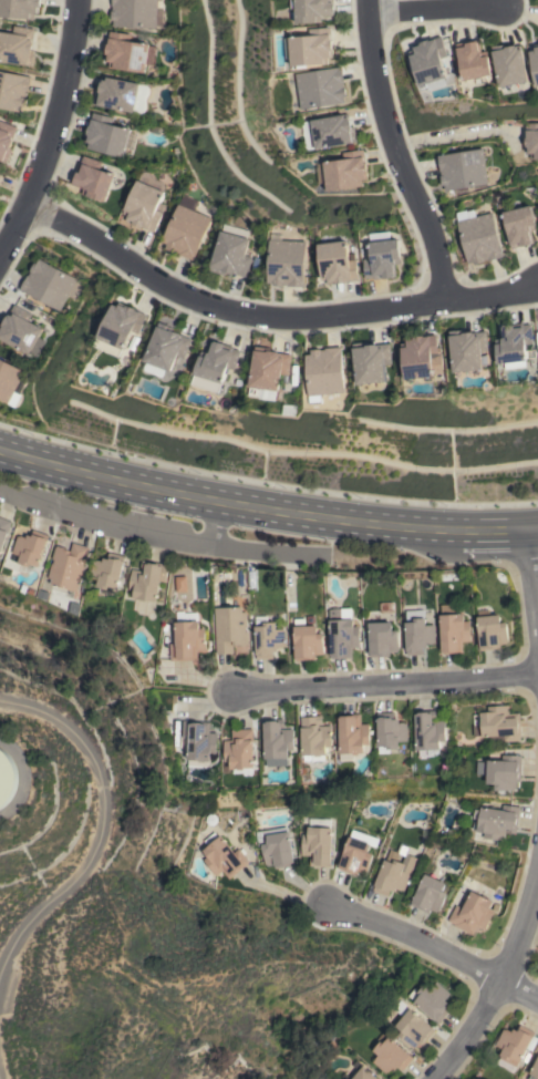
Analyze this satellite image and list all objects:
building: (20, 8)
road: (432, 8)
building: (313, 9)
building: (136, 13)
building: (17, 45)
building: (312, 47)
building: (128, 52)
building: (428, 60)
building: (473, 60)
building: (535, 61)
building: (509, 63)
building: (322, 86)
building: (13, 90)
building: (121, 94)
road: (54, 132)
building: (330, 132)
building: (106, 135)
road: (447, 136)
building: (531, 138)
building: (6, 140)
road: (393, 154)
building: (462, 168)
building: (344, 171)
building: (0, 172)
building: (92, 178)
building: (144, 202)
building: (519, 225)
building: (185, 228)
building: (478, 236)
building: (230, 255)
building: (382, 258)
building: (284, 261)
building: (335, 263)
building: (48, 284)
road: (269, 316)
building: (120, 328)
building: (21, 331)
building: (513, 342)
building: (167, 347)
building: (467, 349)
building: (422, 357)
building: (371, 361)
building: (216, 366)
building: (269, 372)
building: (325, 372)
building: (11, 382)
road: (266, 510)
road: (125, 527)
building: (3, 530)
building: (30, 547)
building: (66, 566)
building: (107, 571)
road: (532, 576)
building: (147, 579)
building: (179, 583)
building: (229, 628)
building: (452, 629)
building: (492, 631)
building: (341, 633)
building: (418, 636)
building: (268, 637)
building: (382, 638)
building: (186, 640)
building: (307, 640)
road: (386, 680)
building: (498, 725)
building: (391, 730)
building: (428, 730)
building: (352, 733)
building: (315, 736)
building: (198, 741)
building: (278, 742)
building: (239, 749)
building: (501, 771)
building: (6, 777)
road: (99, 812)
building: (497, 821)
building: (318, 845)
building: (276, 846)
building: (356, 853)
building: (223, 857)
building: (394, 872)
building: (430, 894)
building: (472, 913)
road: (434, 955)
road: (503, 979)
building: (431, 1000)
building: (413, 1029)
building: (514, 1044)
building: (537, 1049)
building: (390, 1056)
building: (535, 1071)
building: (363, 1075)

